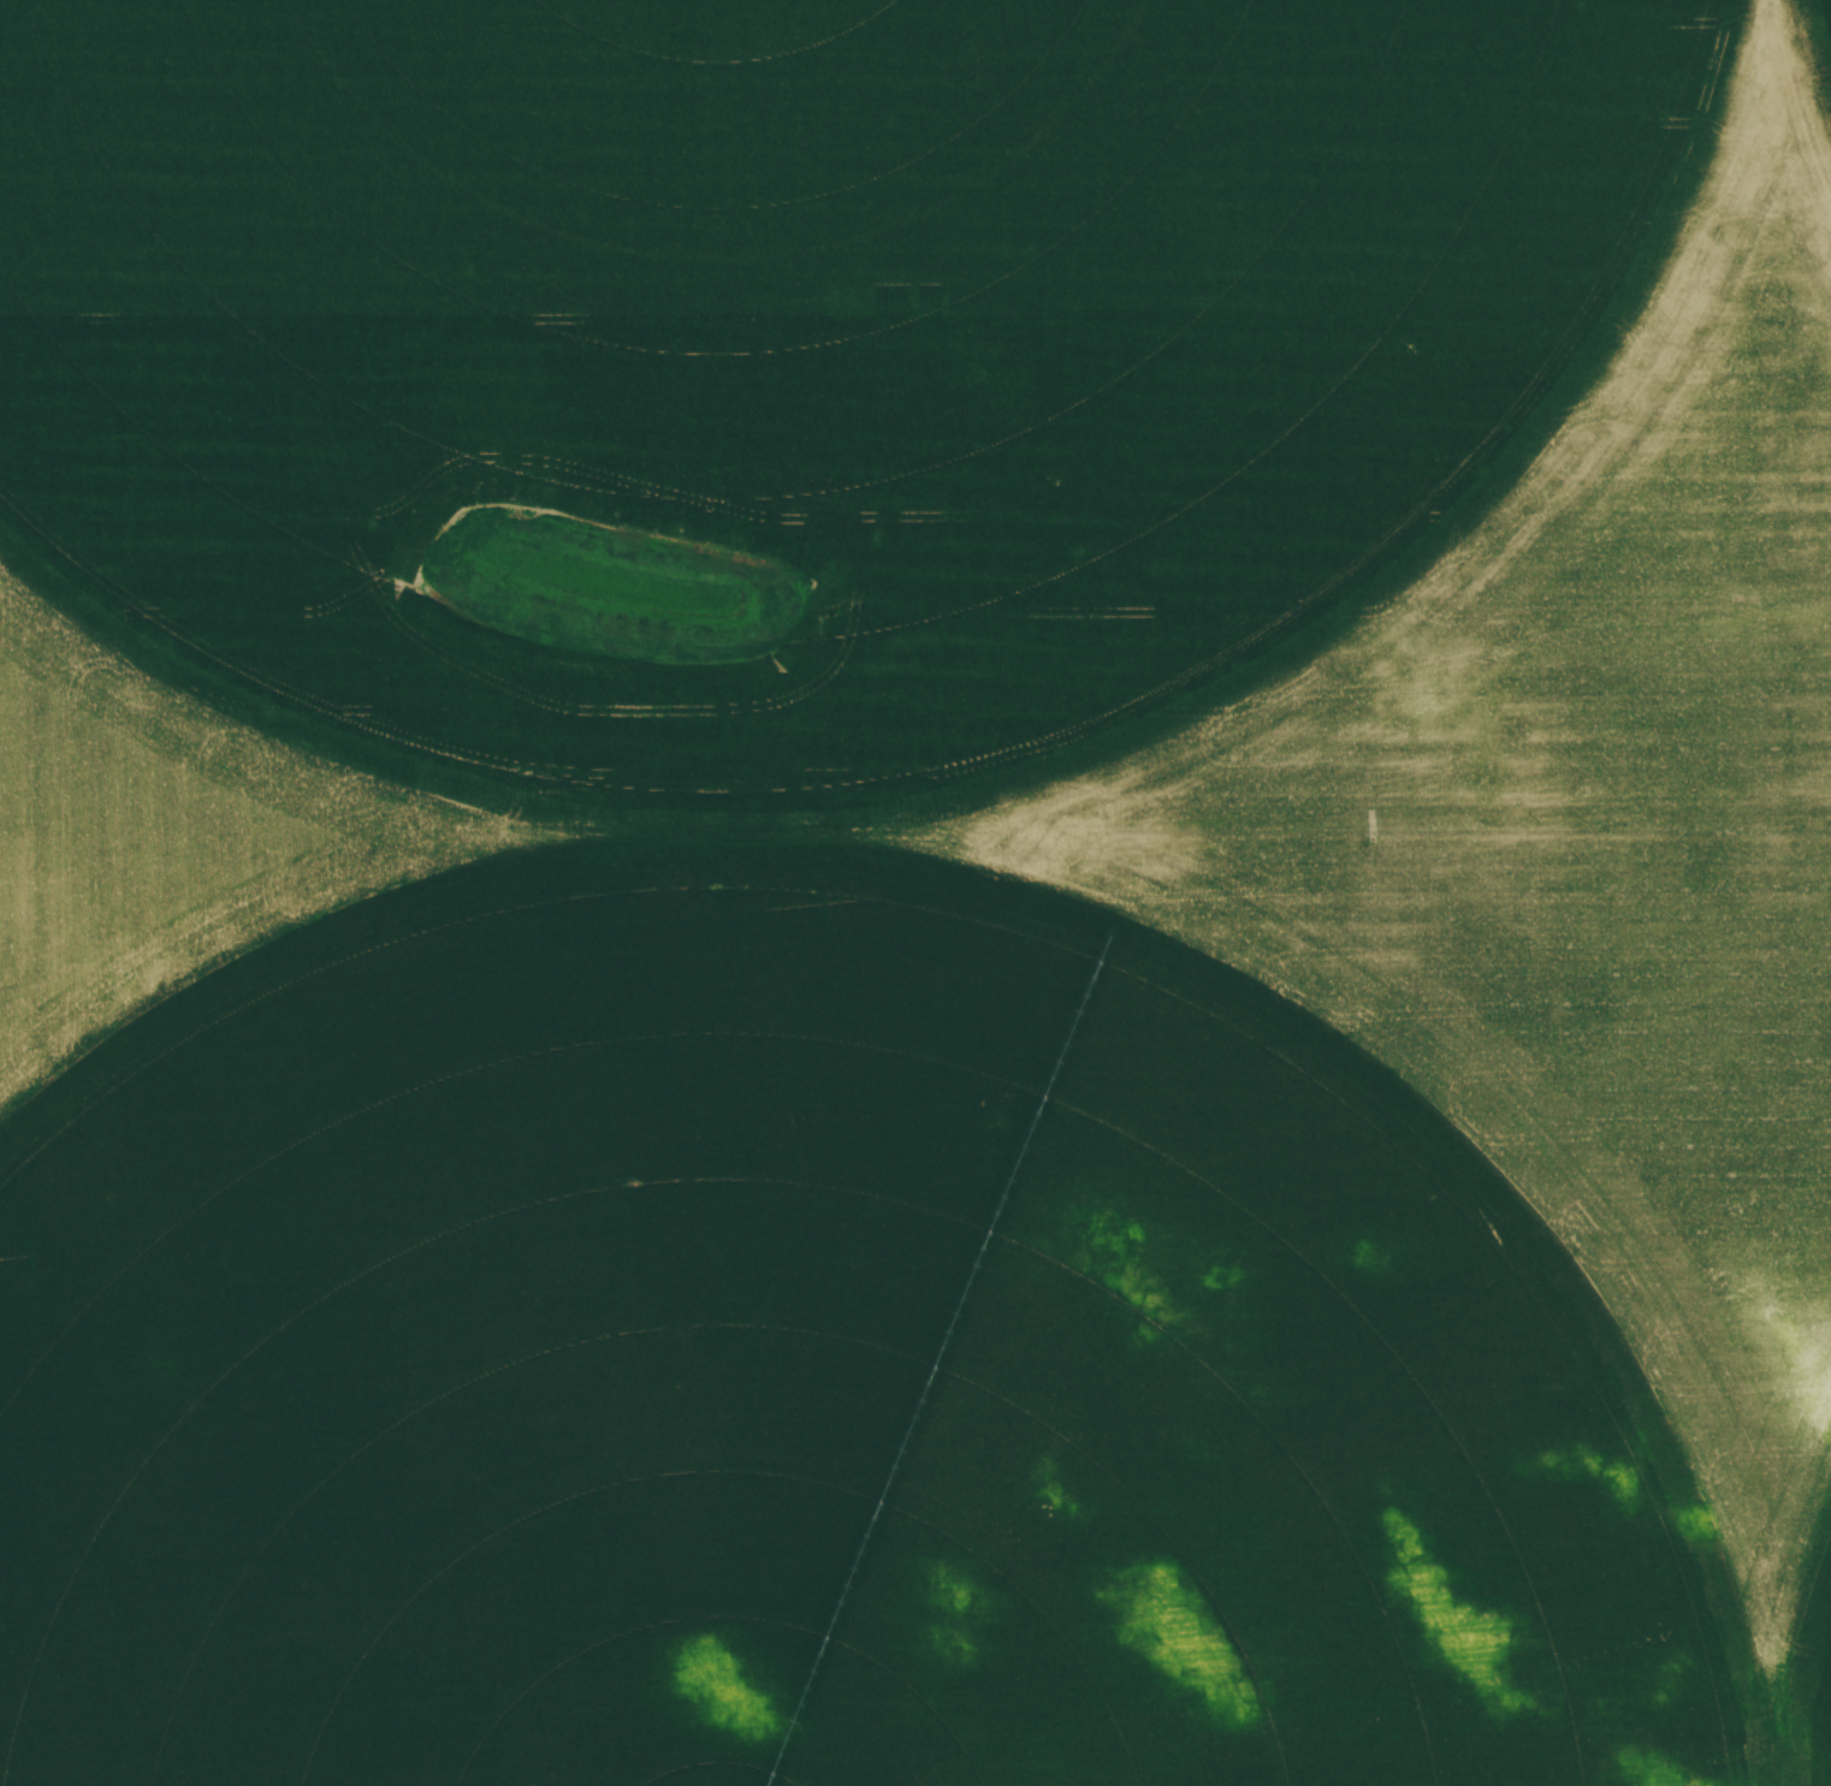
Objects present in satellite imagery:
crop: (916, 892)

